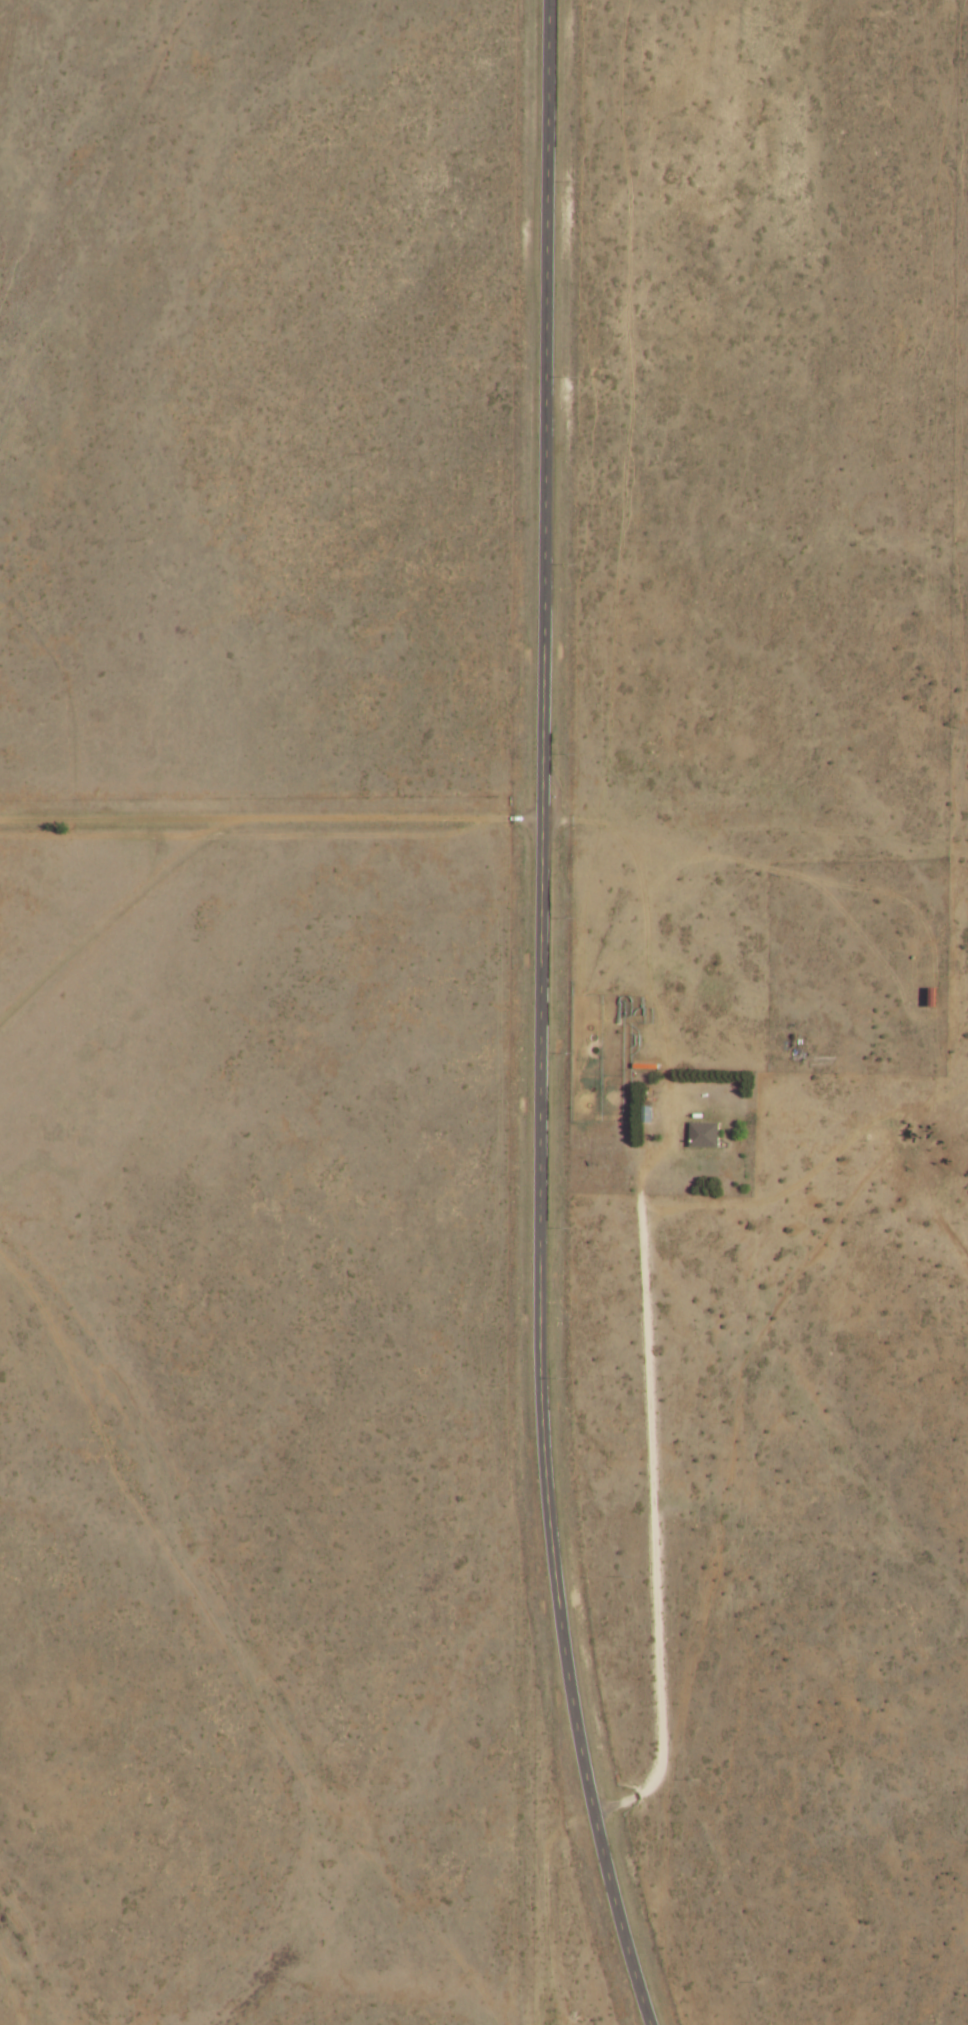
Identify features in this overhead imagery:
road: (486, 819)
road: (75, 904)
building: (937, 997)
road: (539, 1018)
building: (706, 1135)
road: (441, 1948)

